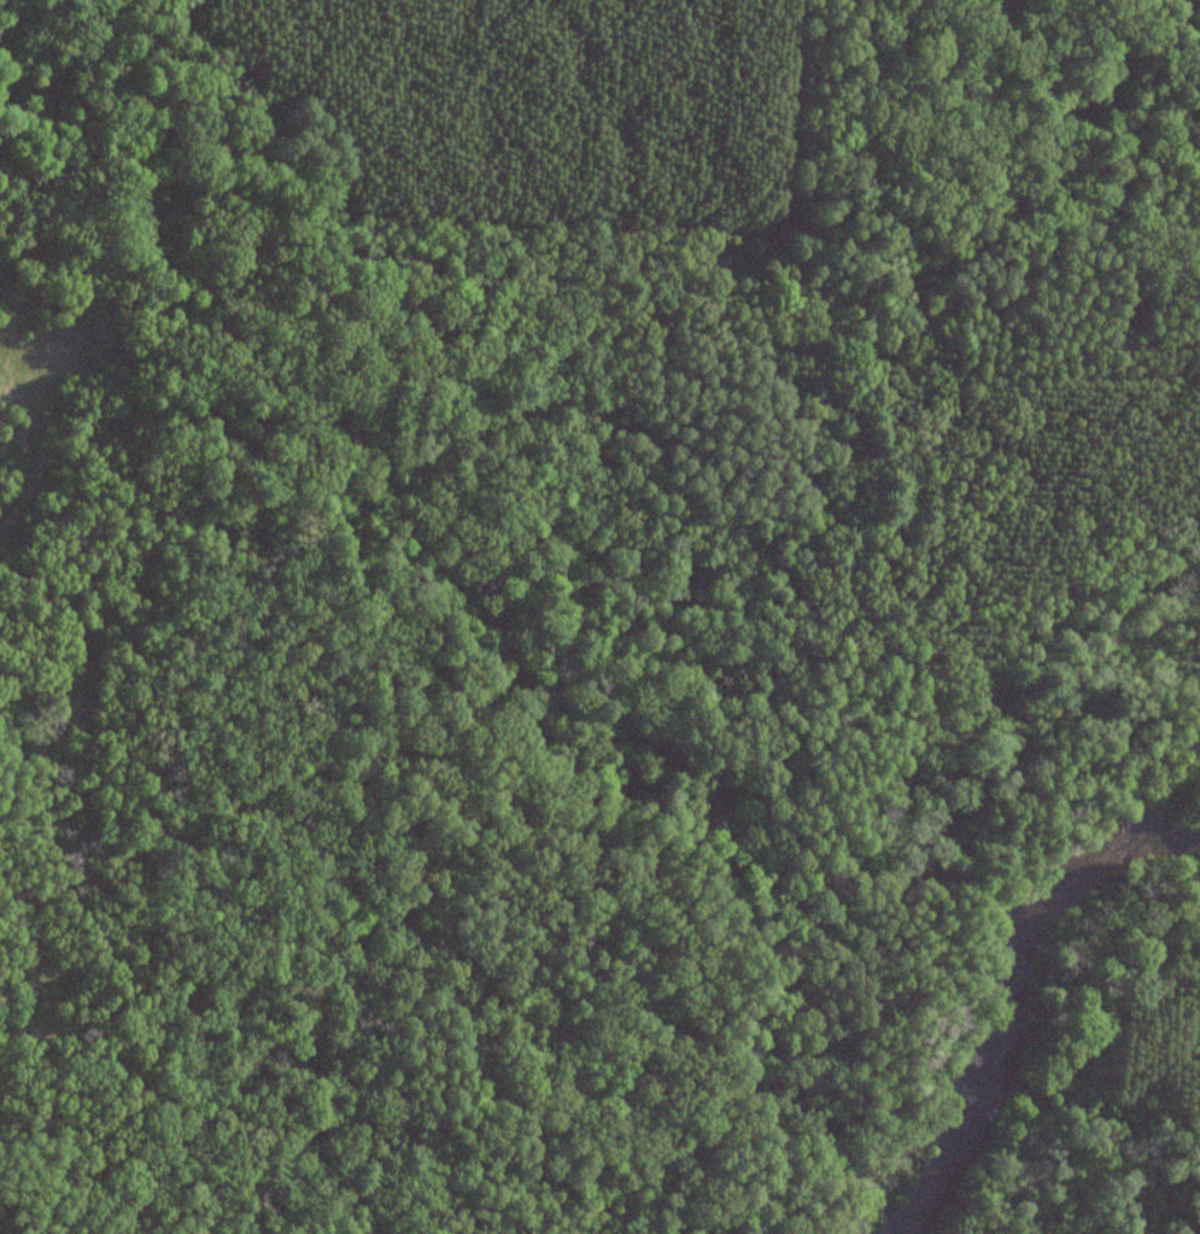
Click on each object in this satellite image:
river: (1011, 993)

